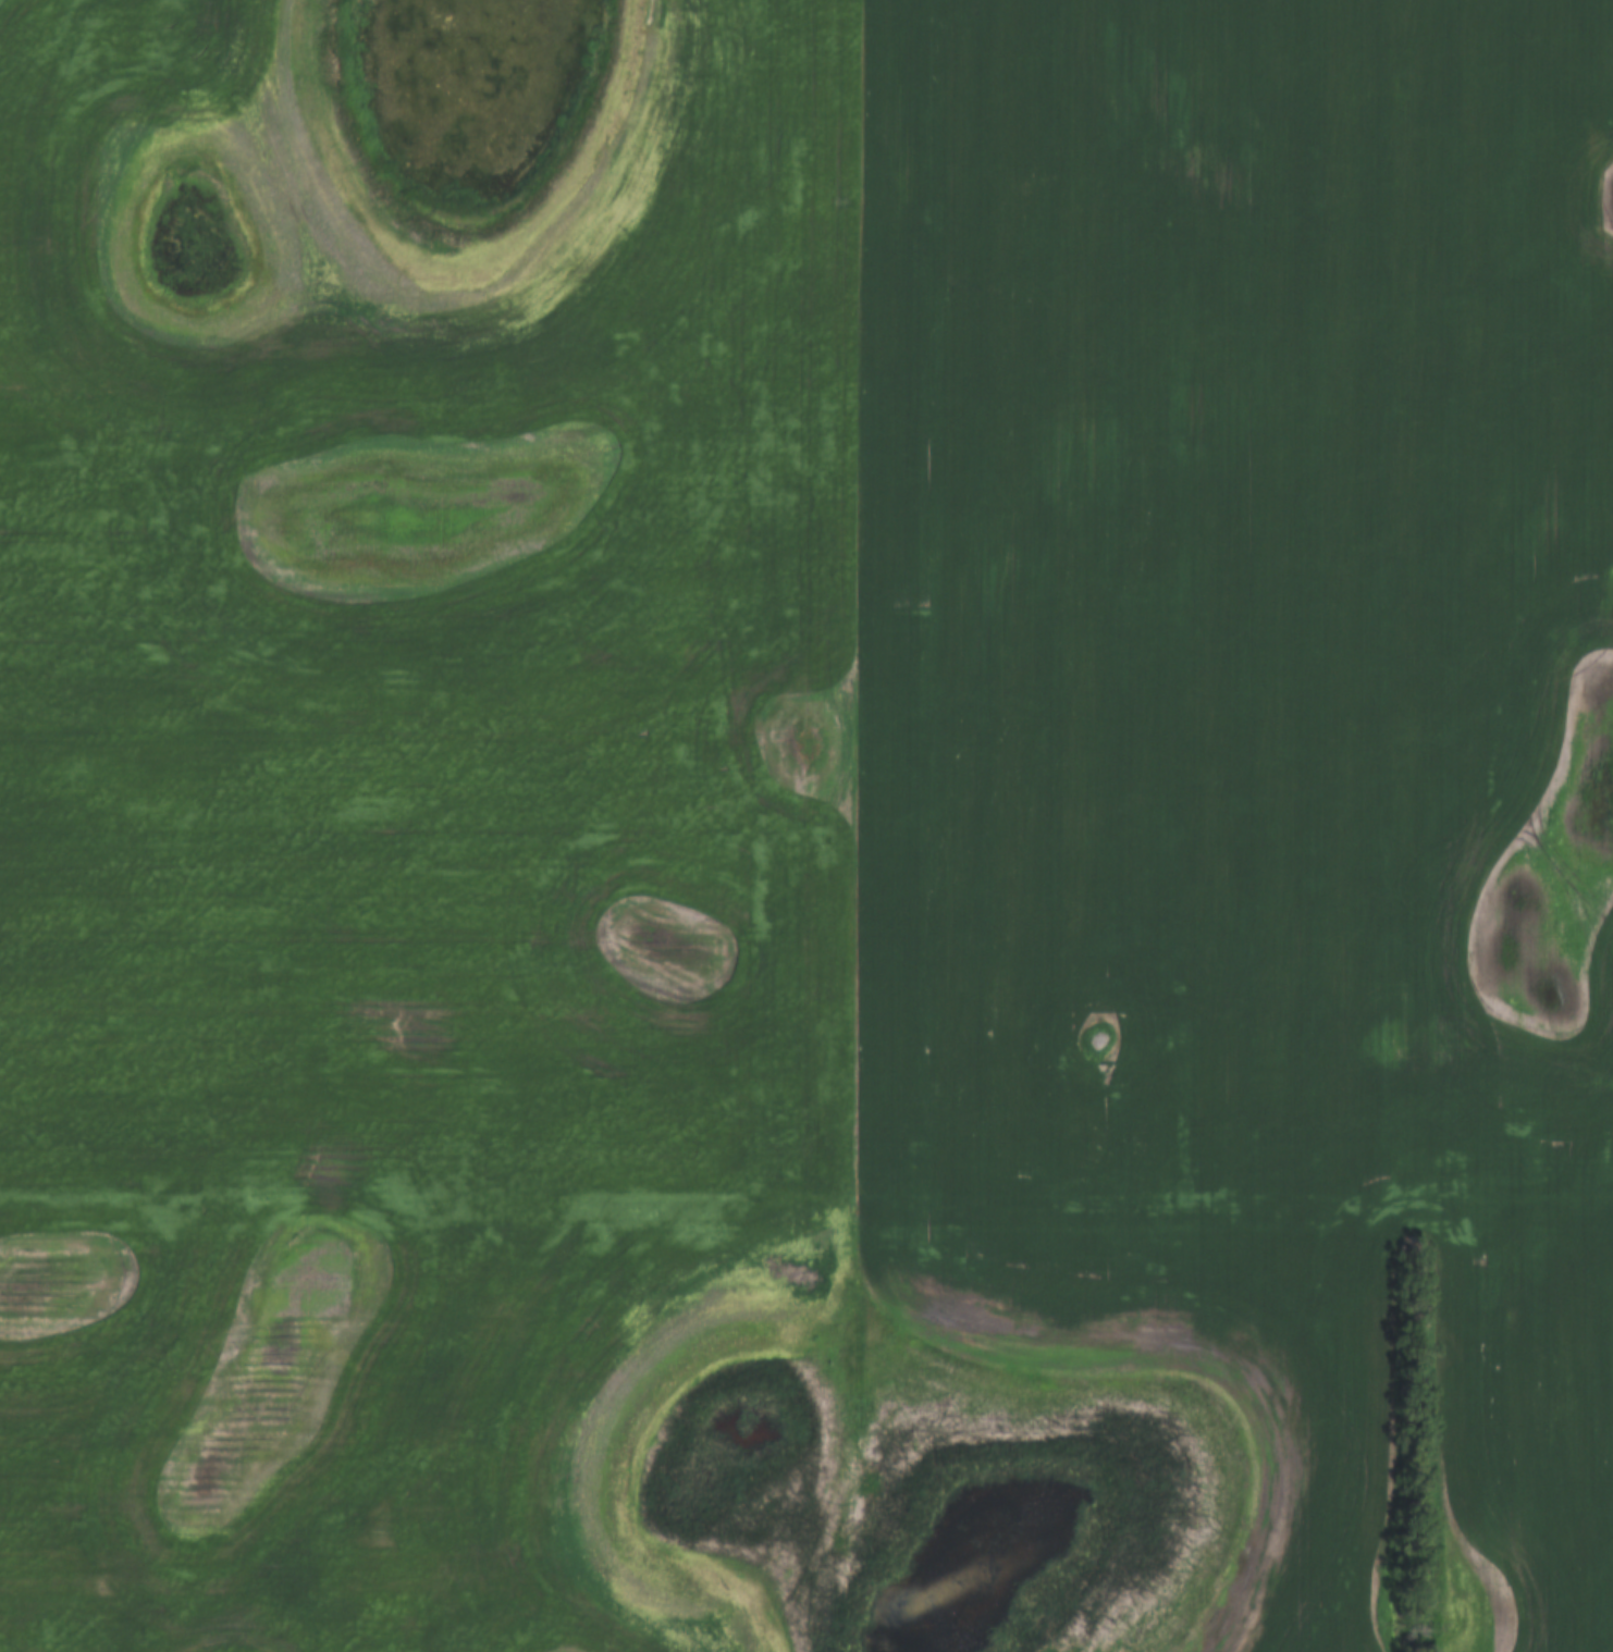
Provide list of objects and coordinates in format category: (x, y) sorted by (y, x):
road: (805, 1208)

